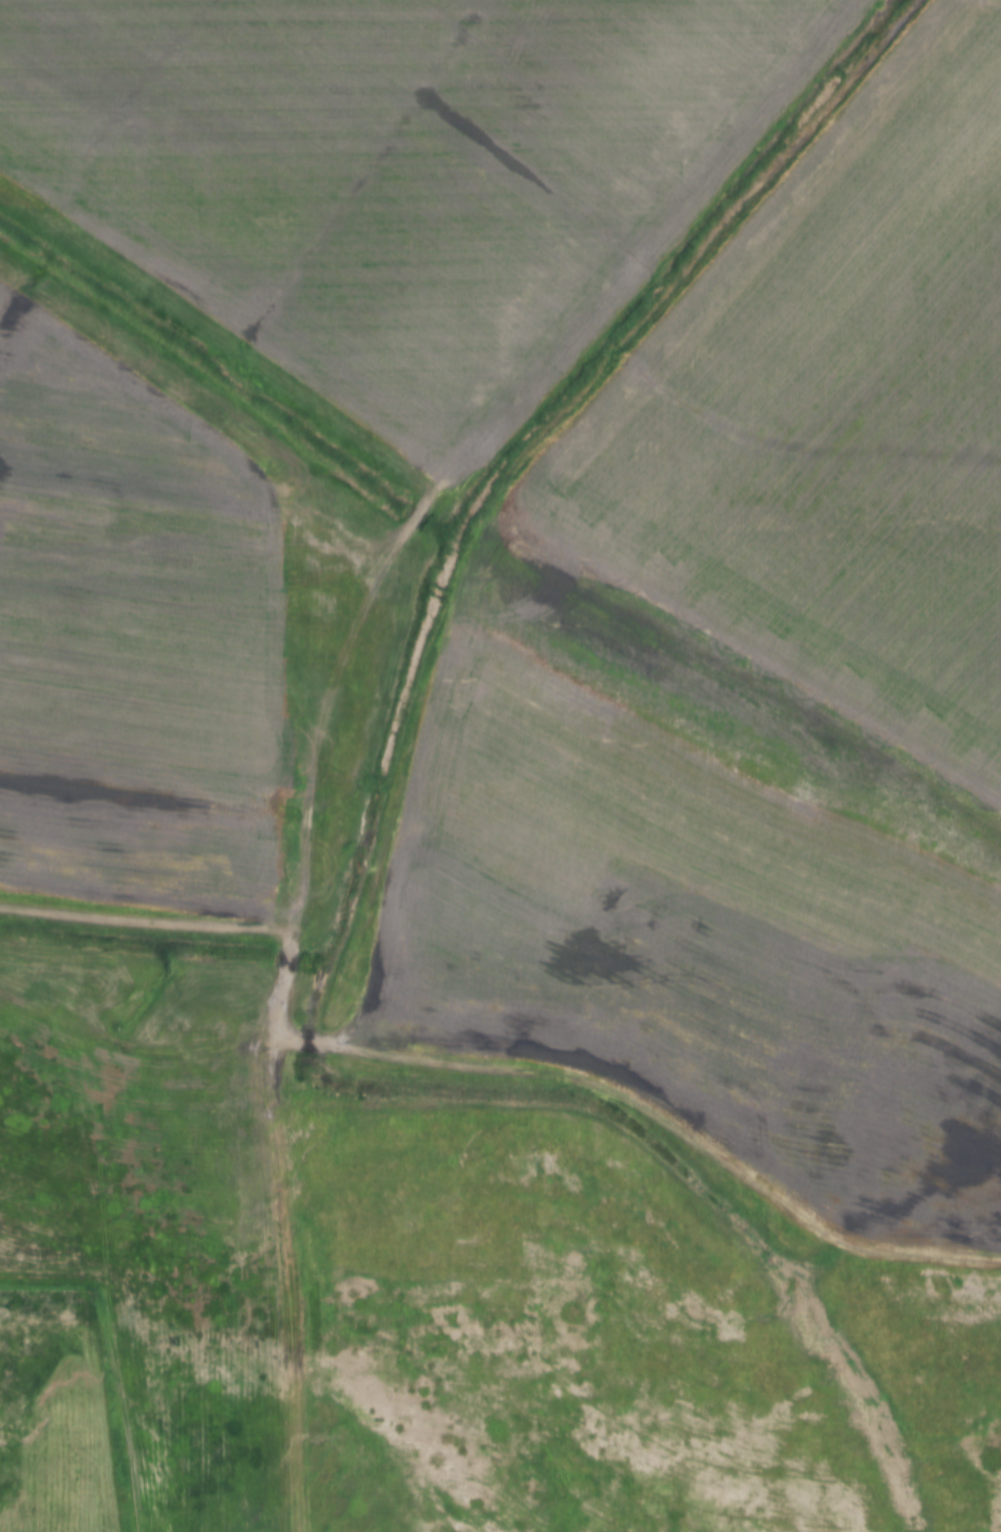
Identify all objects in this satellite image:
road: (96, 1247)

